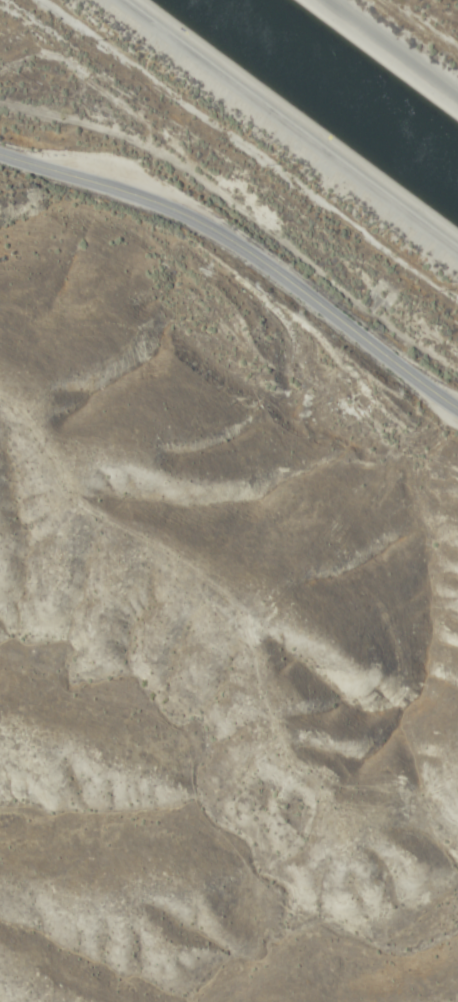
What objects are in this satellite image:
road: (393, 41)
road: (279, 134)
road: (244, 252)

